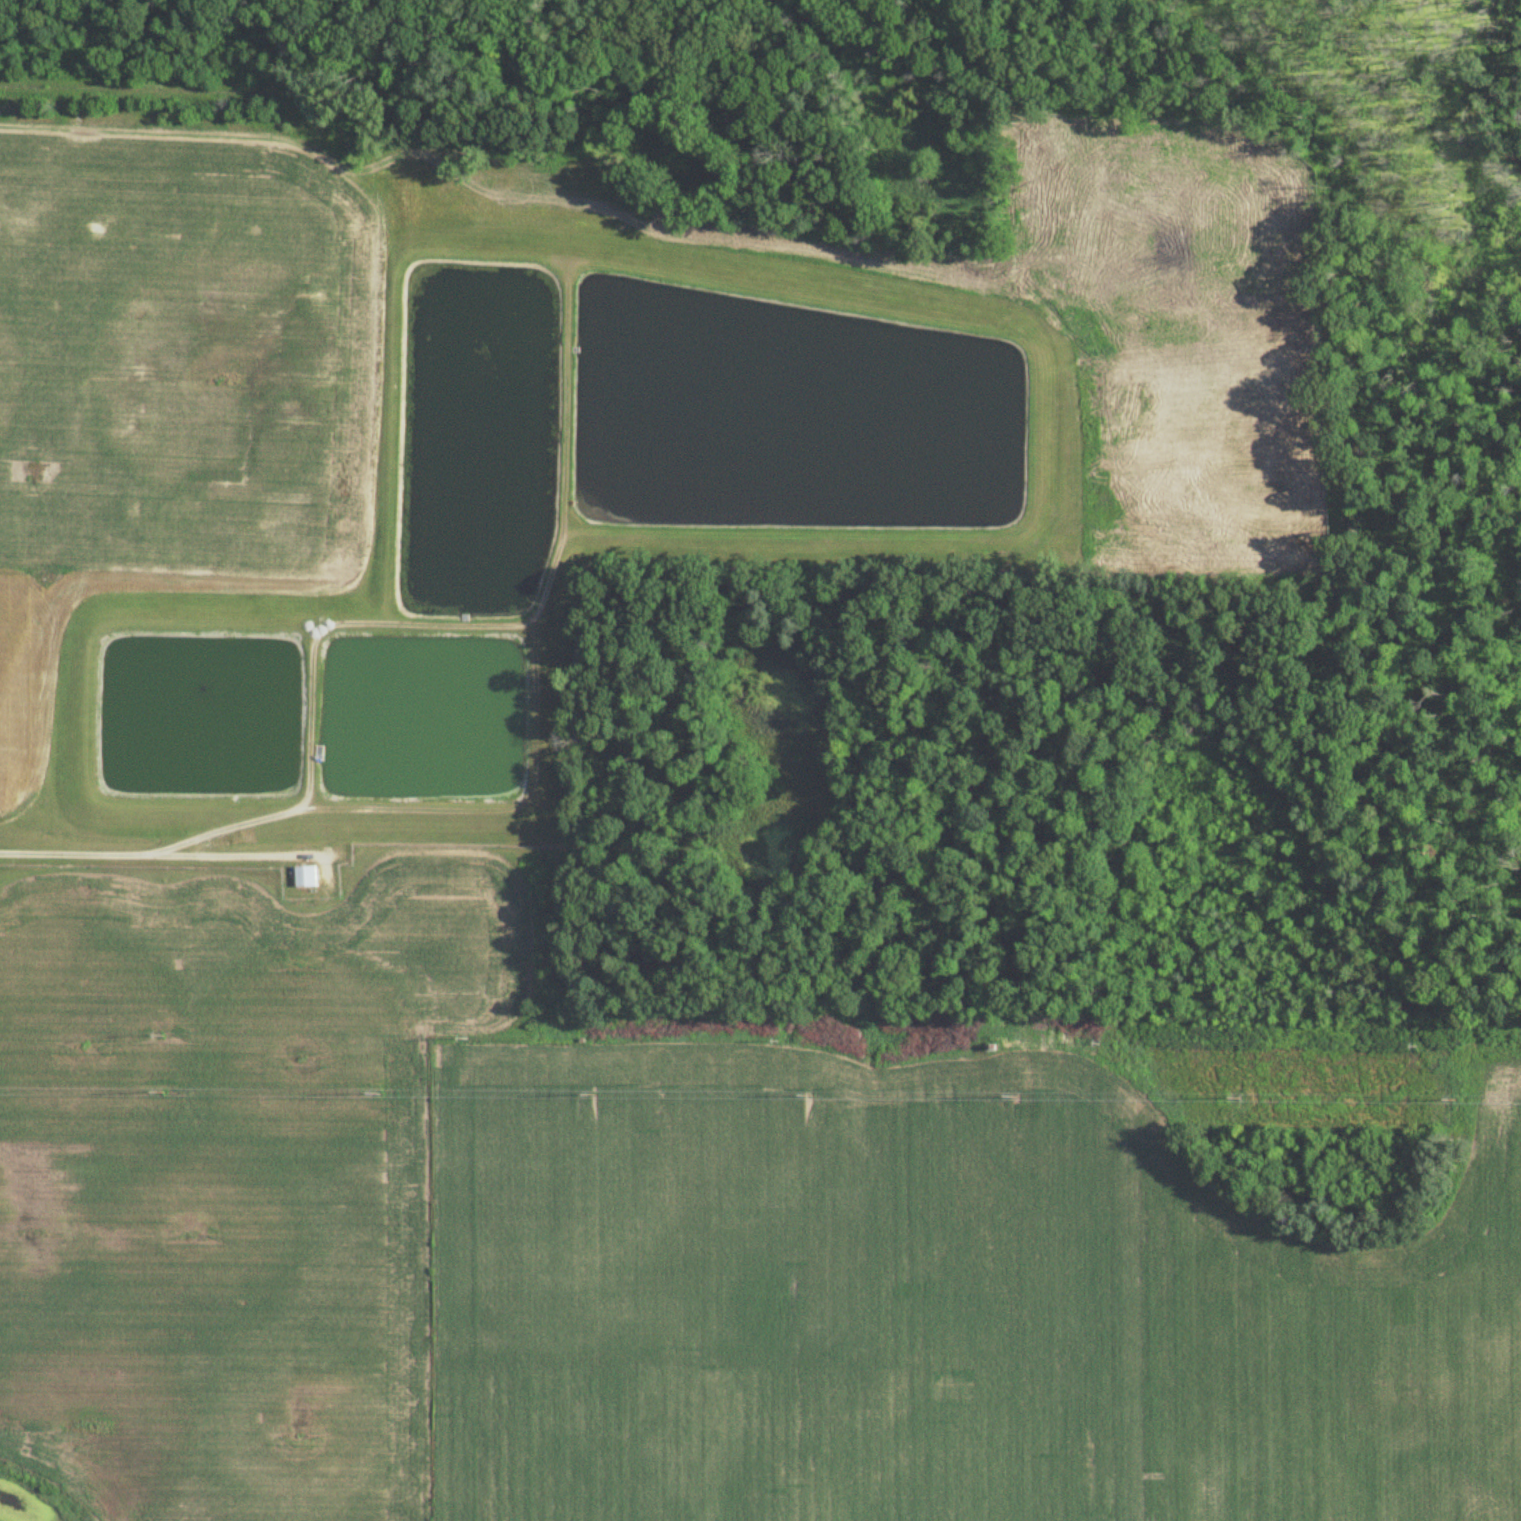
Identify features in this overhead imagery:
road: (157, 853)
building: (308, 877)

